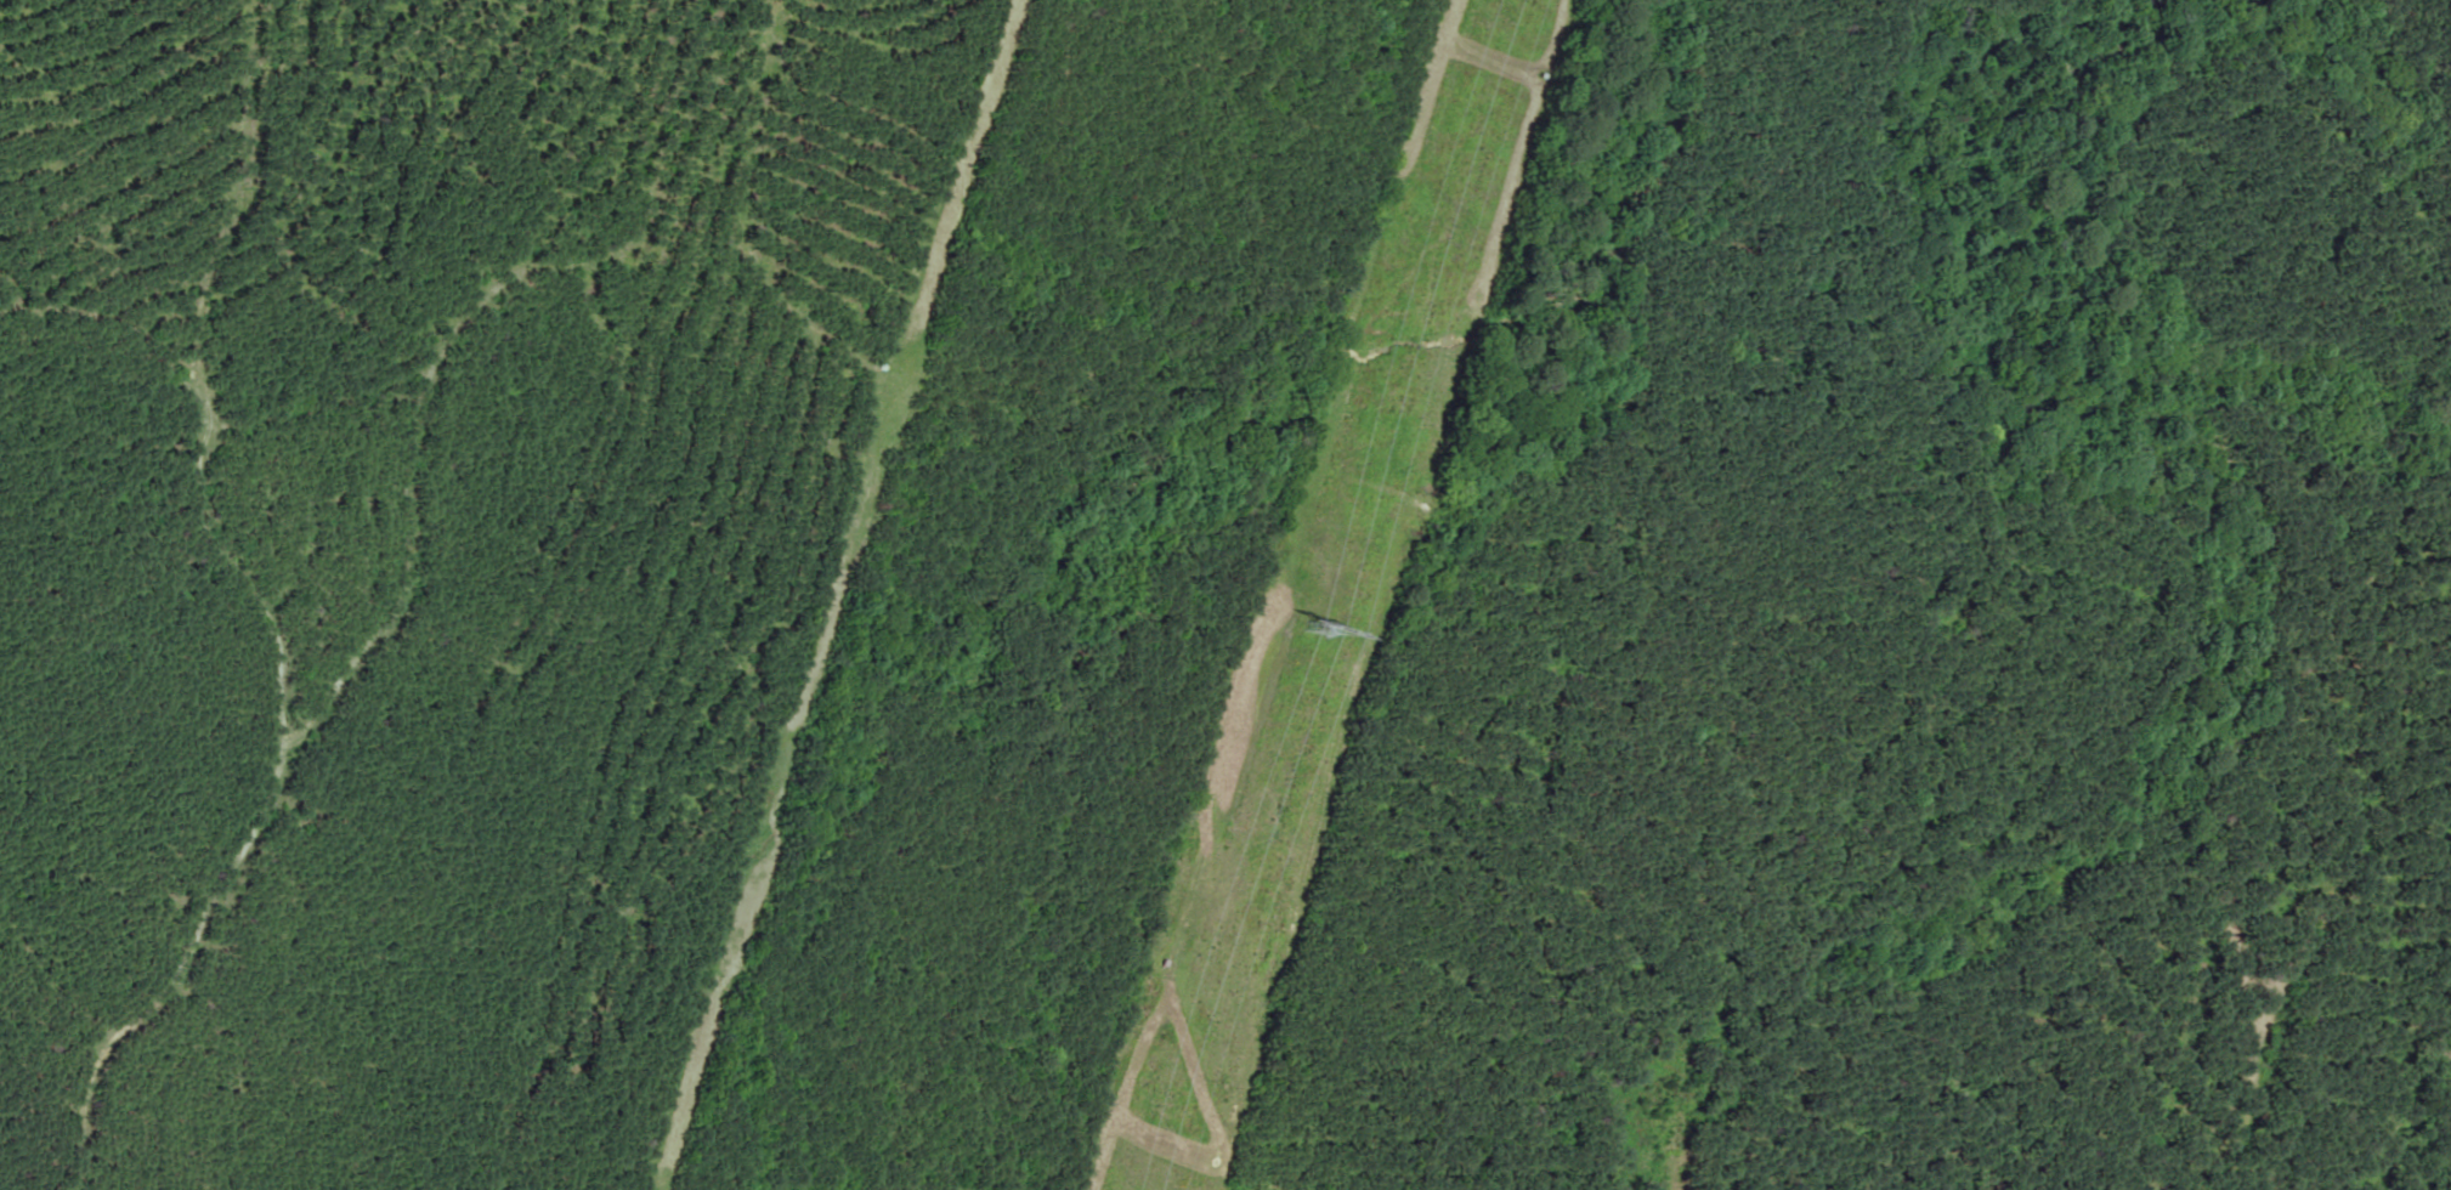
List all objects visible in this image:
road: (392, 546)
power tower: (1309, 623)

